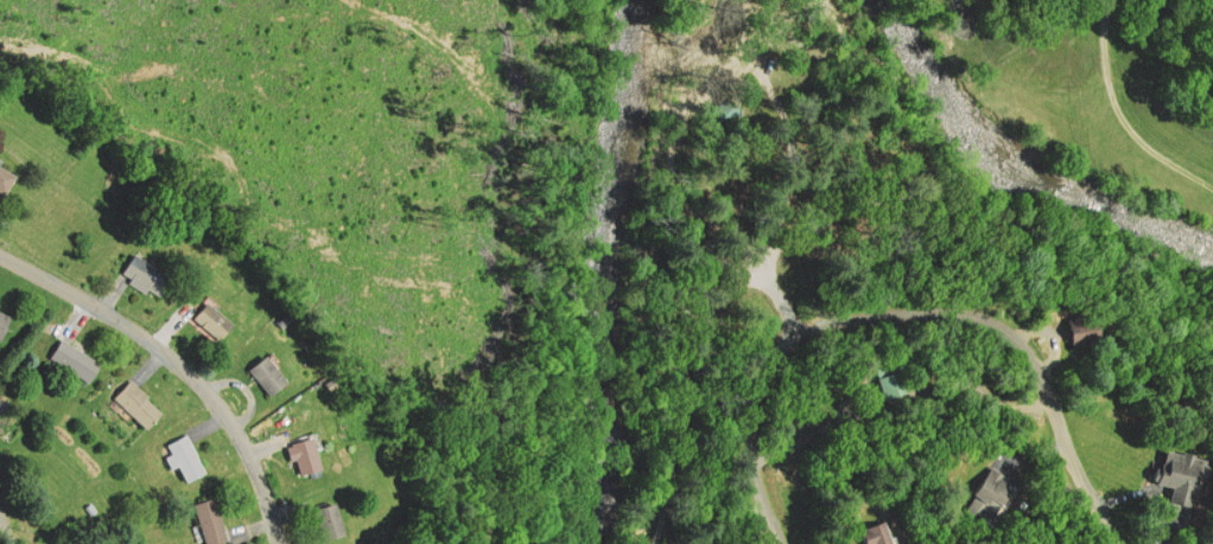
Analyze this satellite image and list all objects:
building: (723, 115)
road: (788, 152)
river: (1018, 158)
building: (6, 178)
building: (984, 239)
building: (147, 271)
river: (610, 271)
building: (212, 316)
road: (909, 316)
building: (4, 322)
building: (1077, 325)
building: (77, 358)
road: (178, 363)
building: (269, 372)
building: (697, 379)
building: (895, 382)
building: (138, 403)
building: (307, 454)
building: (188, 456)
building: (1176, 478)
building: (991, 492)
building: (211, 520)
building: (331, 520)
road: (5, 530)
building: (879, 531)
building: (61, 543)

